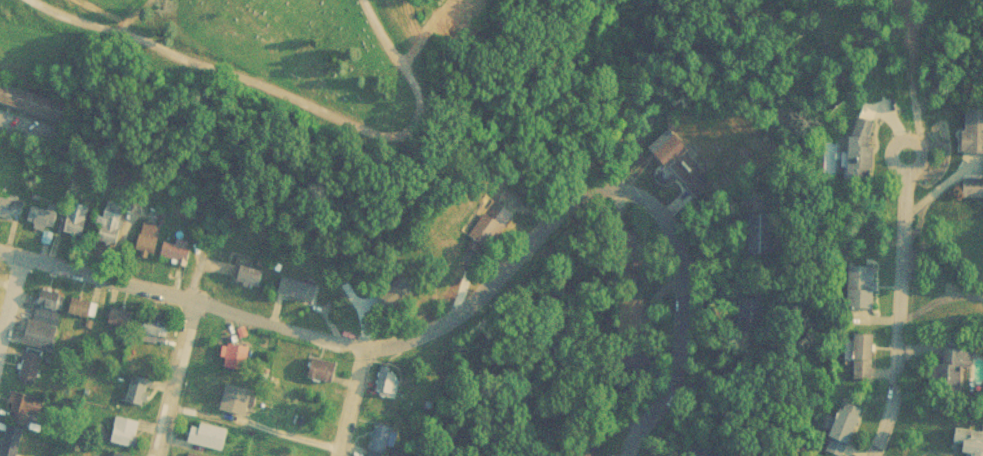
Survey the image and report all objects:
park: (282, 54)
road: (288, 96)
building: (35, 107)
building: (973, 129)
building: (860, 147)
road: (888, 155)
building: (687, 180)
building: (972, 186)
road: (623, 189)
building: (11, 215)
building: (43, 220)
building: (76, 224)
building: (111, 226)
building: (491, 230)
building: (756, 233)
building: (179, 256)
building: (251, 282)
building: (862, 286)
building: (299, 294)
road: (183, 296)
building: (402, 298)
road: (936, 298)
road: (12, 301)
building: (85, 313)
building: (747, 313)
road: (895, 315)
building: (122, 323)
building: (158, 337)
building: (43, 340)
building: (862, 356)
building: (240, 363)
building: (952, 368)
building: (32, 371)
building: (325, 375)
road: (173, 377)
building: (389, 387)
building: (140, 395)
road: (354, 399)
building: (143, 402)
building: (239, 405)
building: (28, 411)
building: (844, 425)
road: (254, 427)
building: (127, 437)
building: (970, 440)
building: (211, 441)
building: (383, 443)
building: (13, 444)
building: (119, 454)
building: (196, 454)

